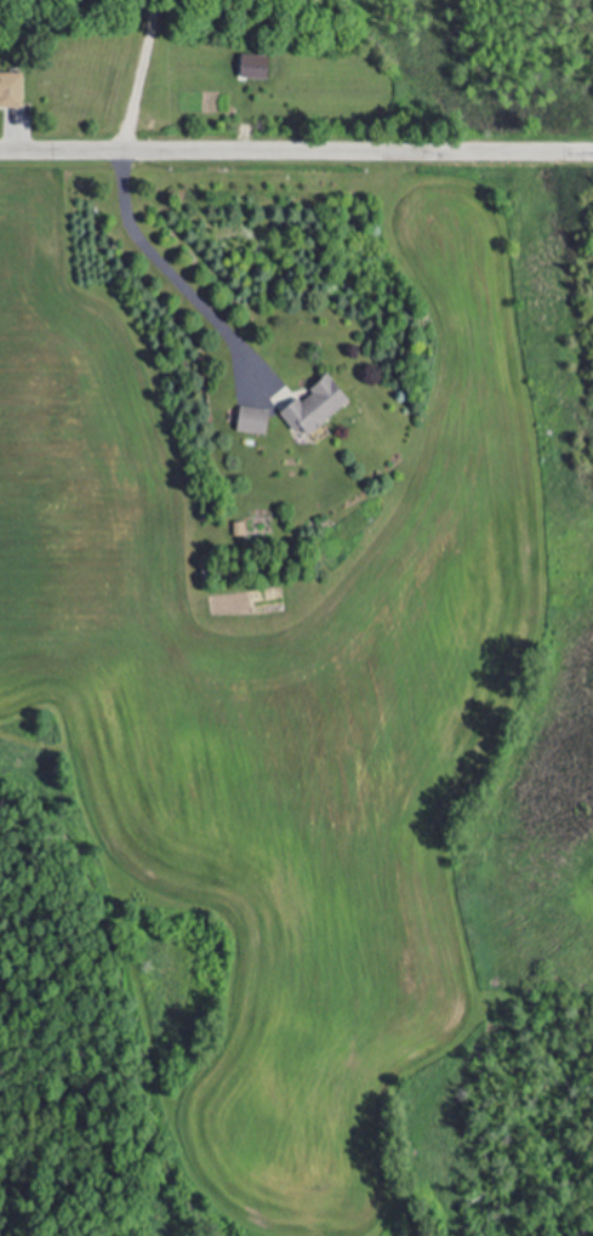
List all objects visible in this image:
building: (258, 68)
building: (12, 91)
road: (296, 153)
road: (125, 211)
building: (319, 406)
building: (255, 421)

